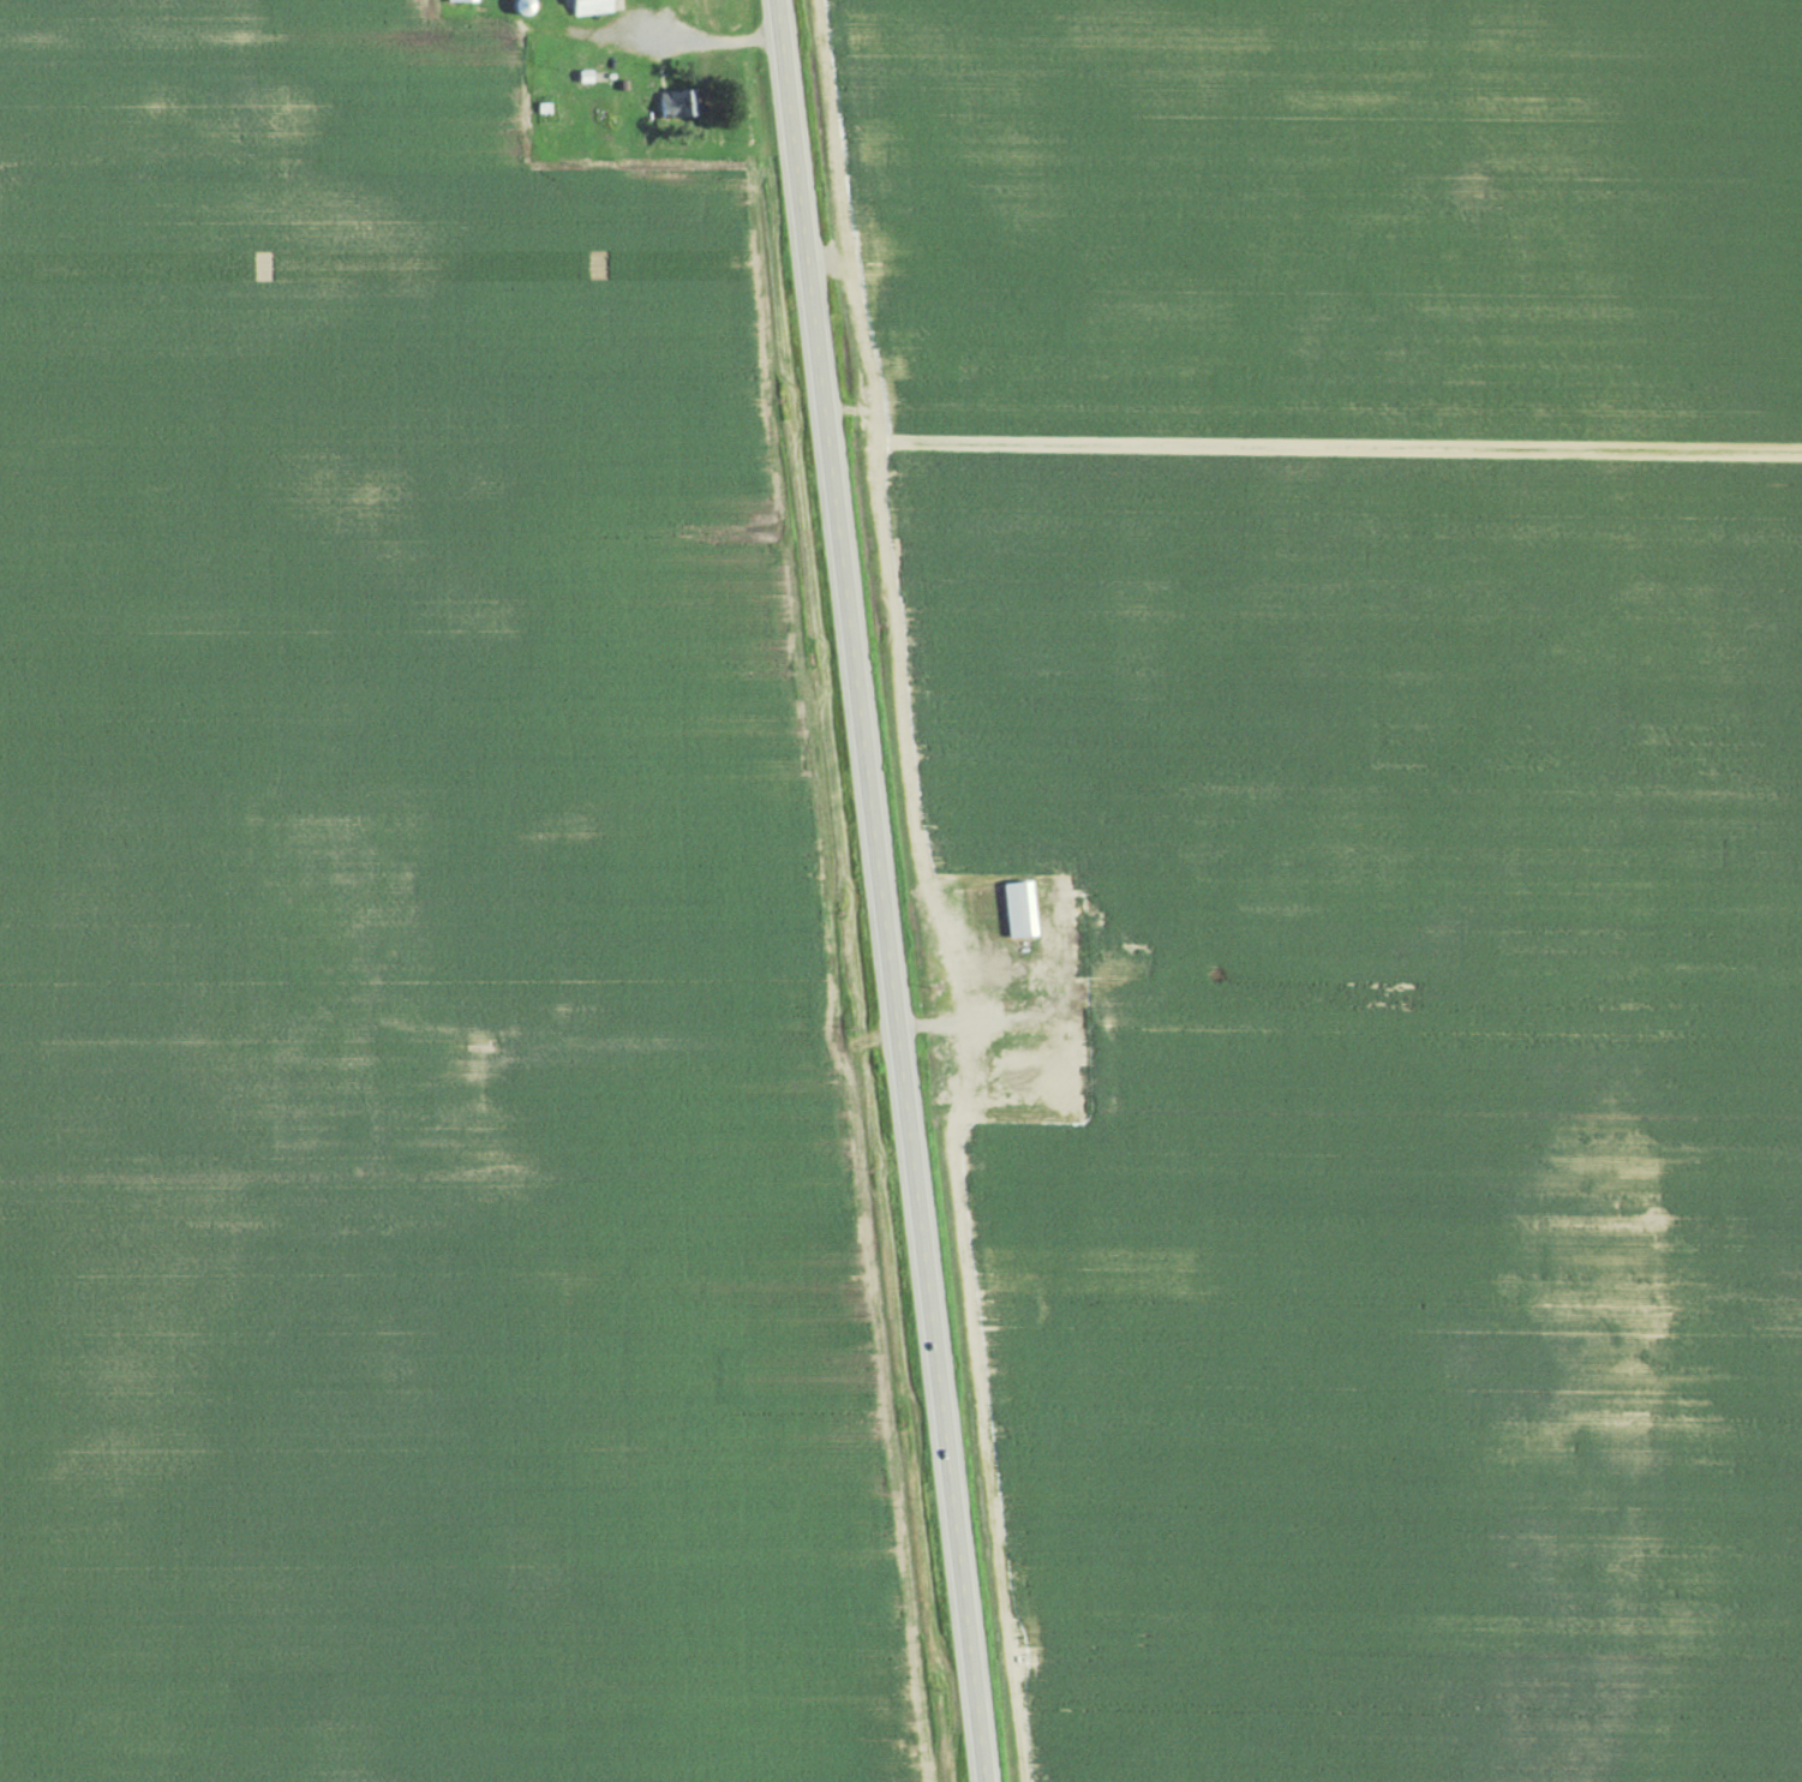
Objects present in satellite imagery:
building: (459, 1)
building: (589, 6)
road: (706, 44)
road: (880, 891)
building: (1018, 911)
road: (966, 1025)

